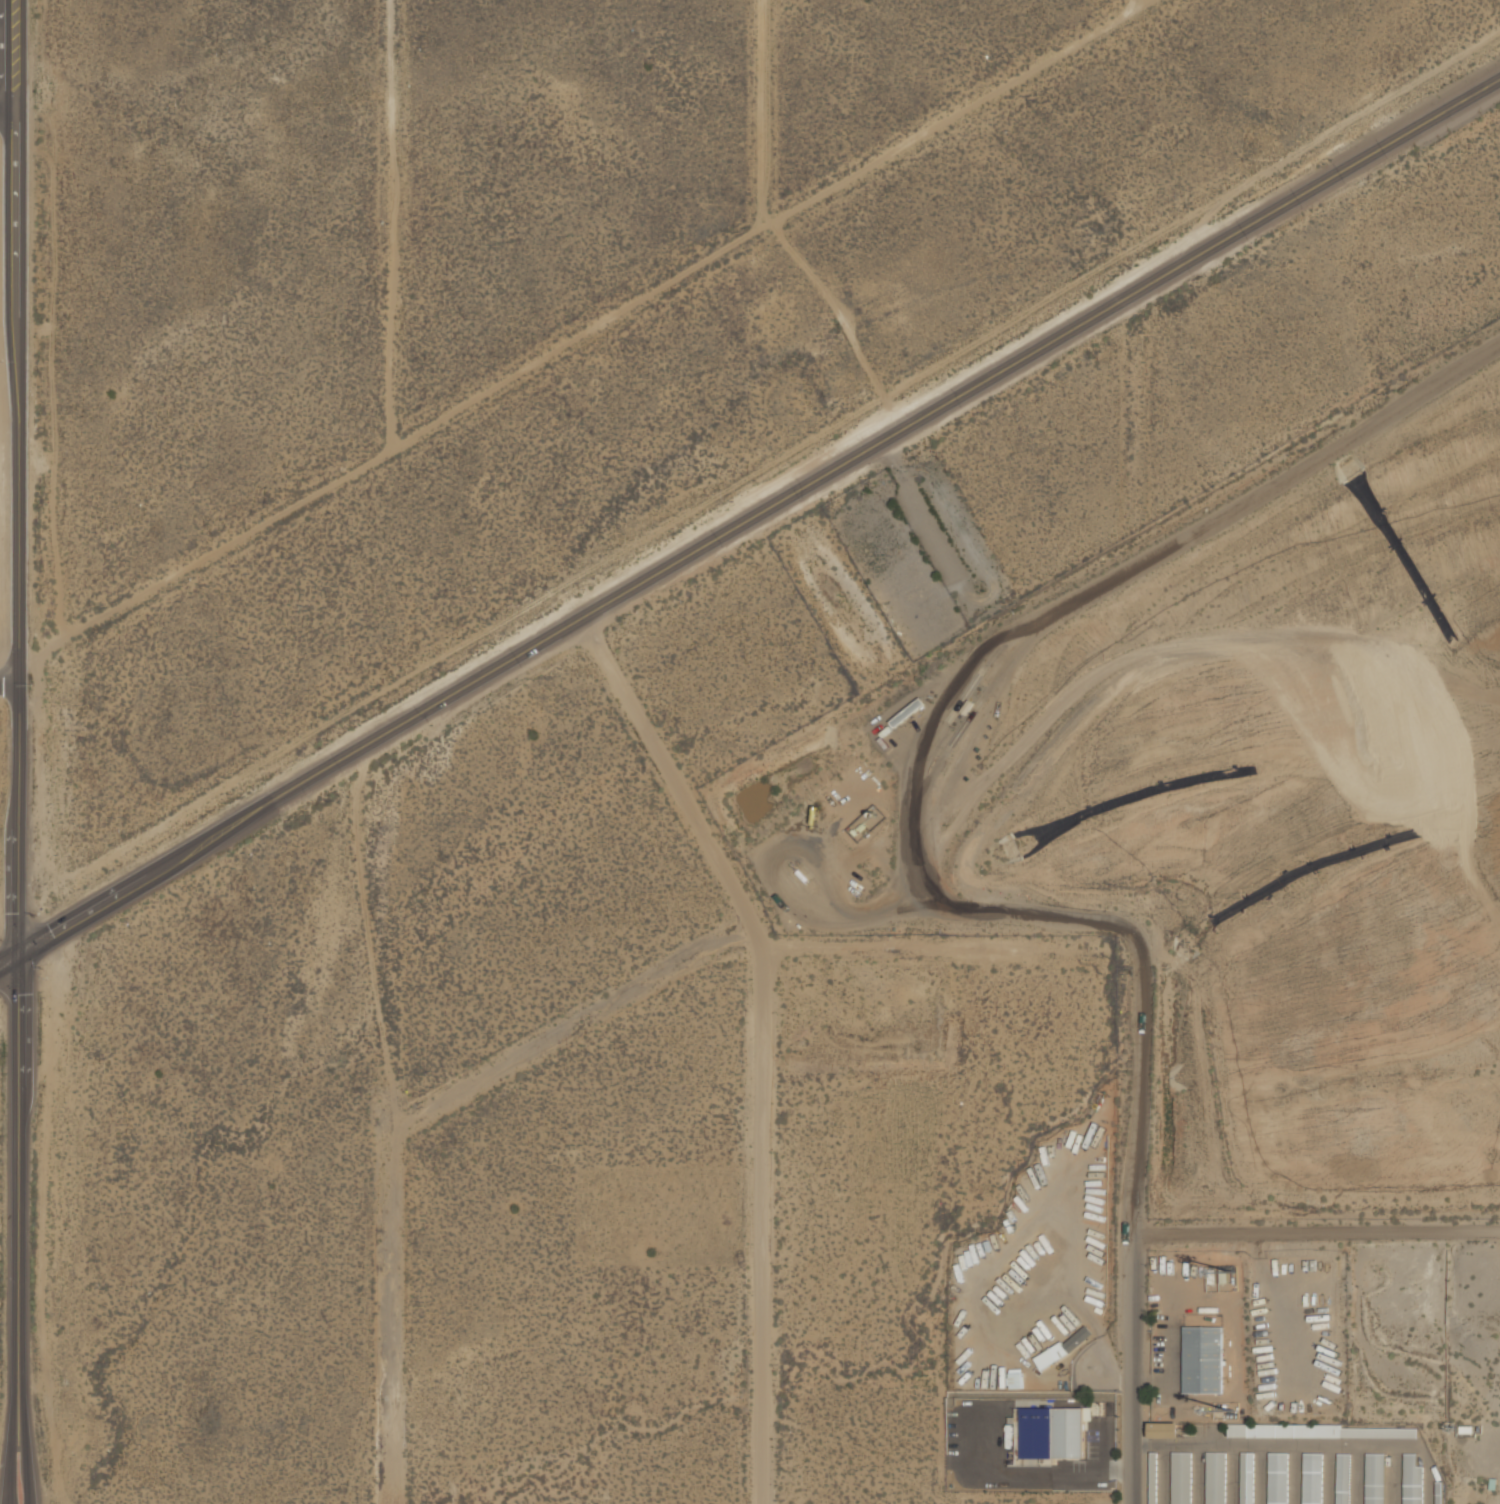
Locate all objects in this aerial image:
road: (1143, 1)
road: (769, 112)
road: (10, 115)
road: (398, 222)
road: (582, 335)
road: (750, 520)
building: (897, 577)
road: (8, 674)
road: (17, 708)
building: (908, 711)
road: (912, 809)
road: (1033, 913)
landfill: (1158, 1006)
road: (762, 1038)
road: (1138, 1083)
road: (407, 1115)
road: (1177, 1234)
building: (1063, 1346)
building: (1202, 1359)
building: (1015, 1377)
building: (1164, 1429)
building: (1322, 1430)
building: (1068, 1431)
road: (12, 1460)
road: (28, 1460)
building: (1154, 1477)
building: (1182, 1477)
building: (1216, 1477)
building: (1247, 1477)
building: (1278, 1477)
building: (1313, 1478)
building: (1343, 1478)
building: (1375, 1478)
building: (1411, 1480)

